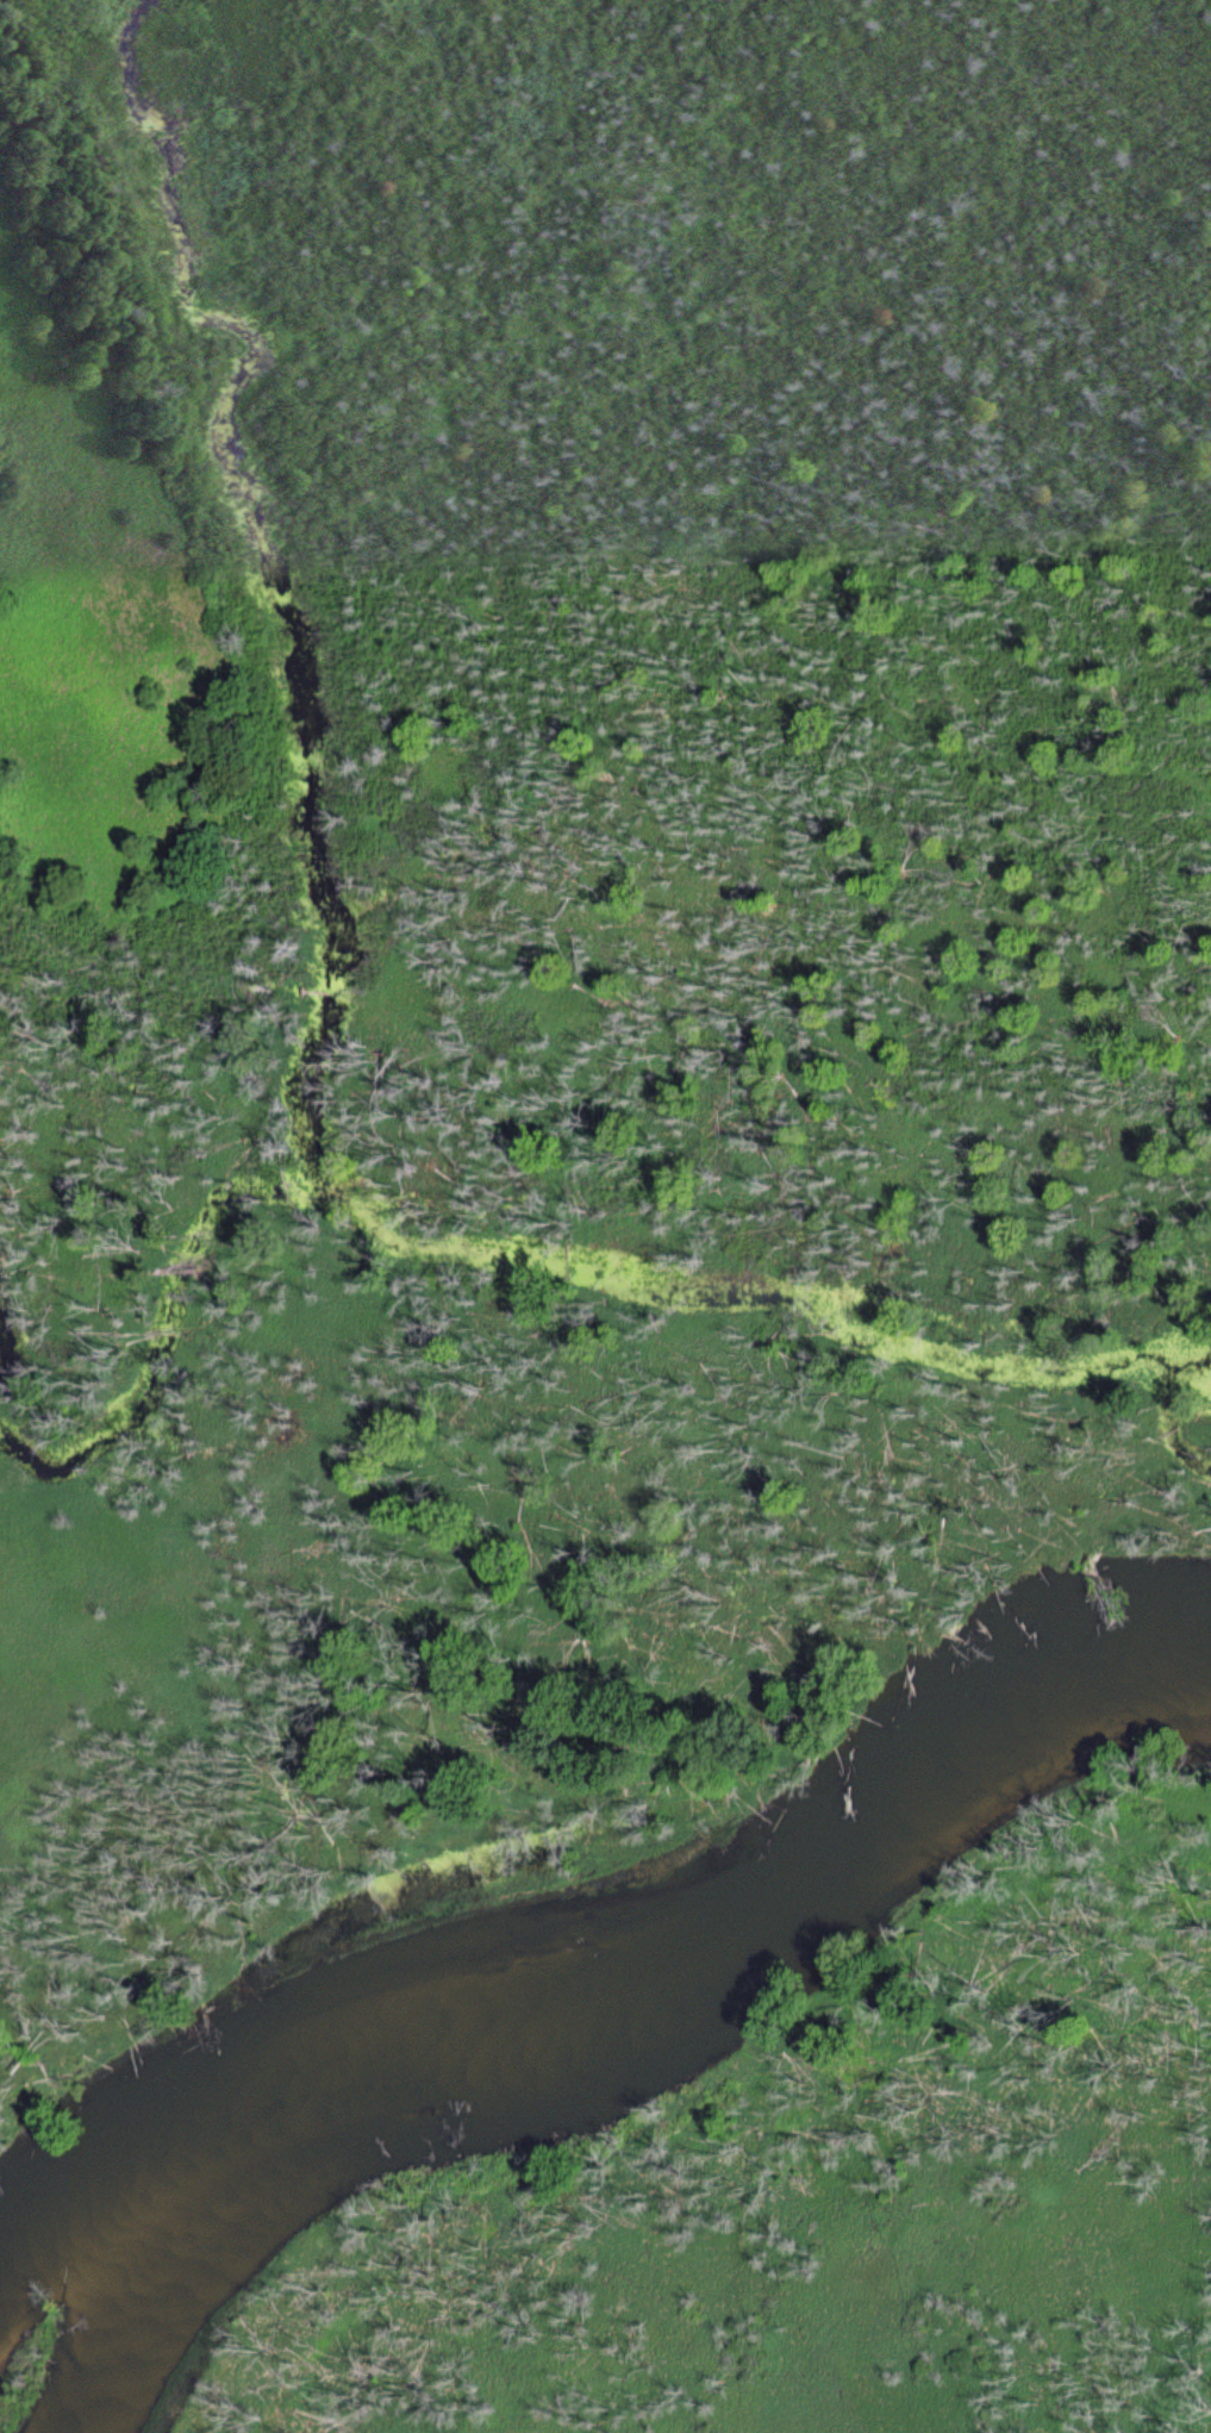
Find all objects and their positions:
river: (581, 1984)

